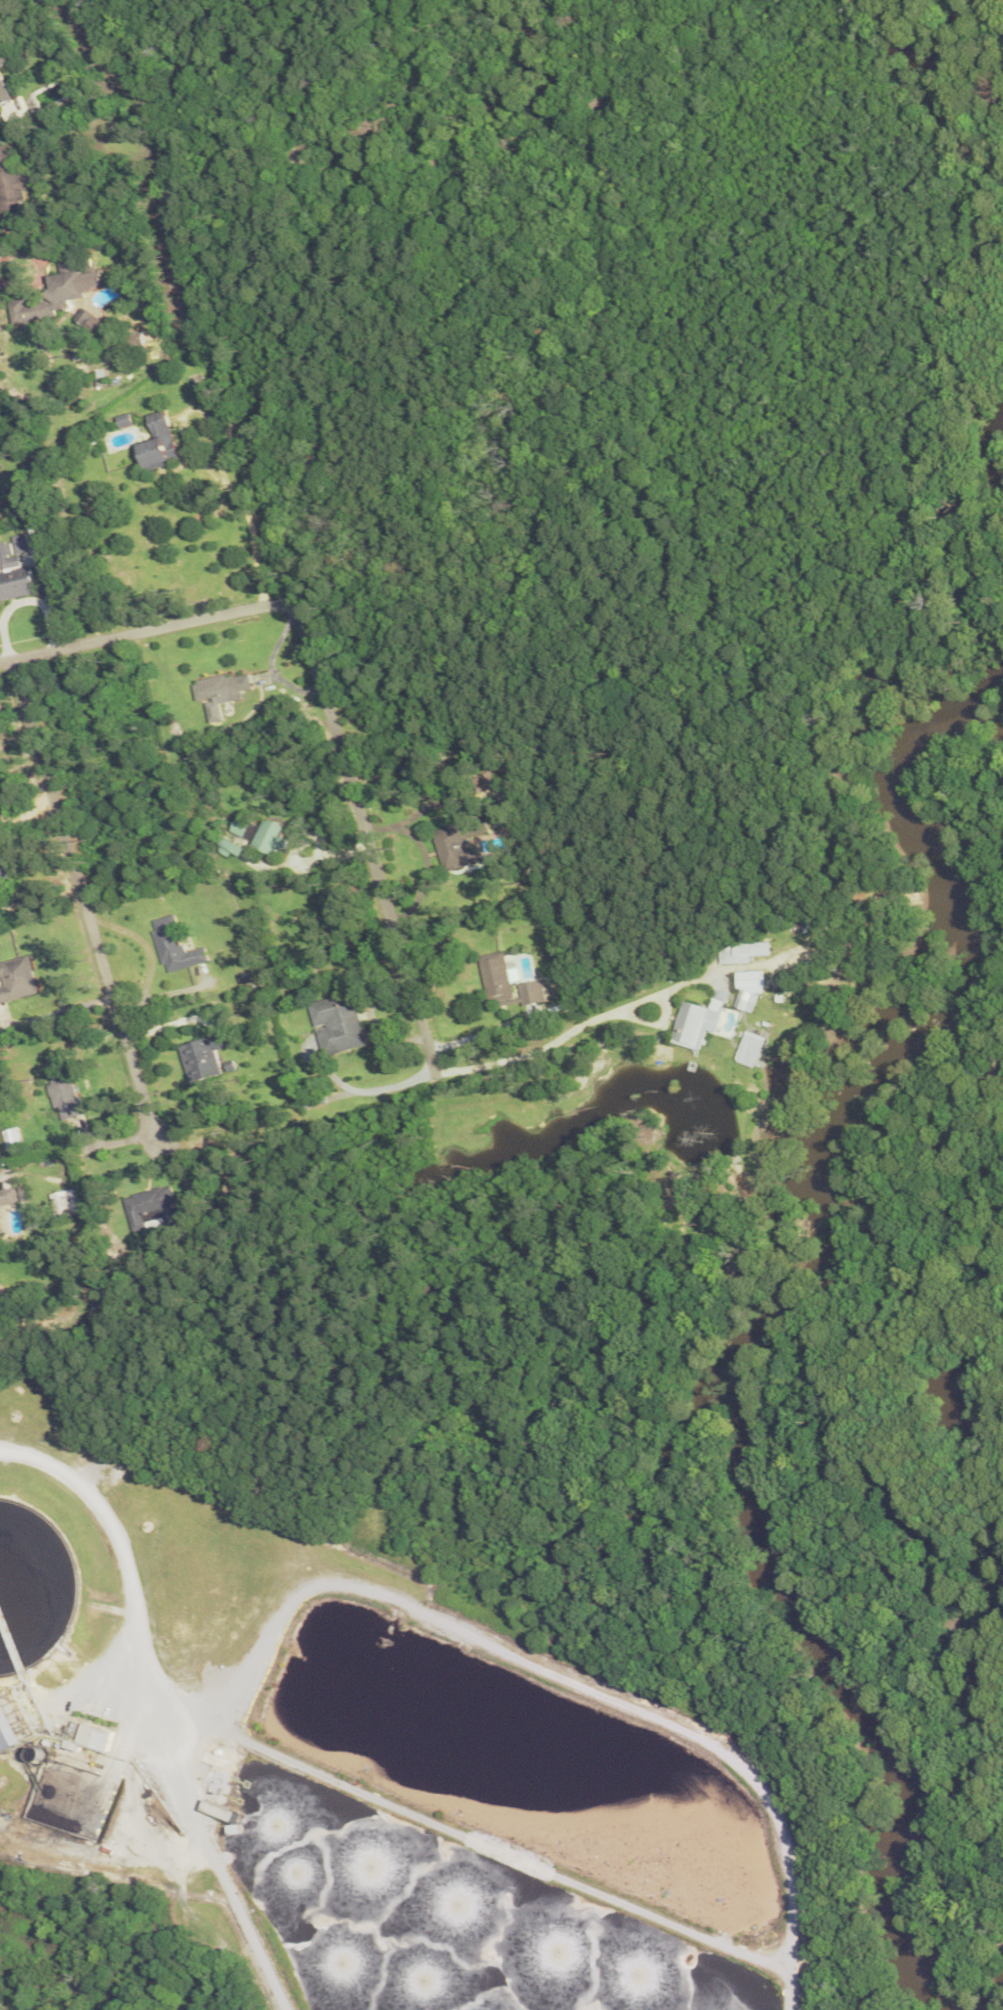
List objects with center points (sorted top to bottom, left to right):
road: (137, 629)
road: (373, 846)
road: (80, 878)
river: (772, 1312)
road: (170, 1514)
road: (566, 1675)
road: (455, 1819)
road: (178, 1864)

